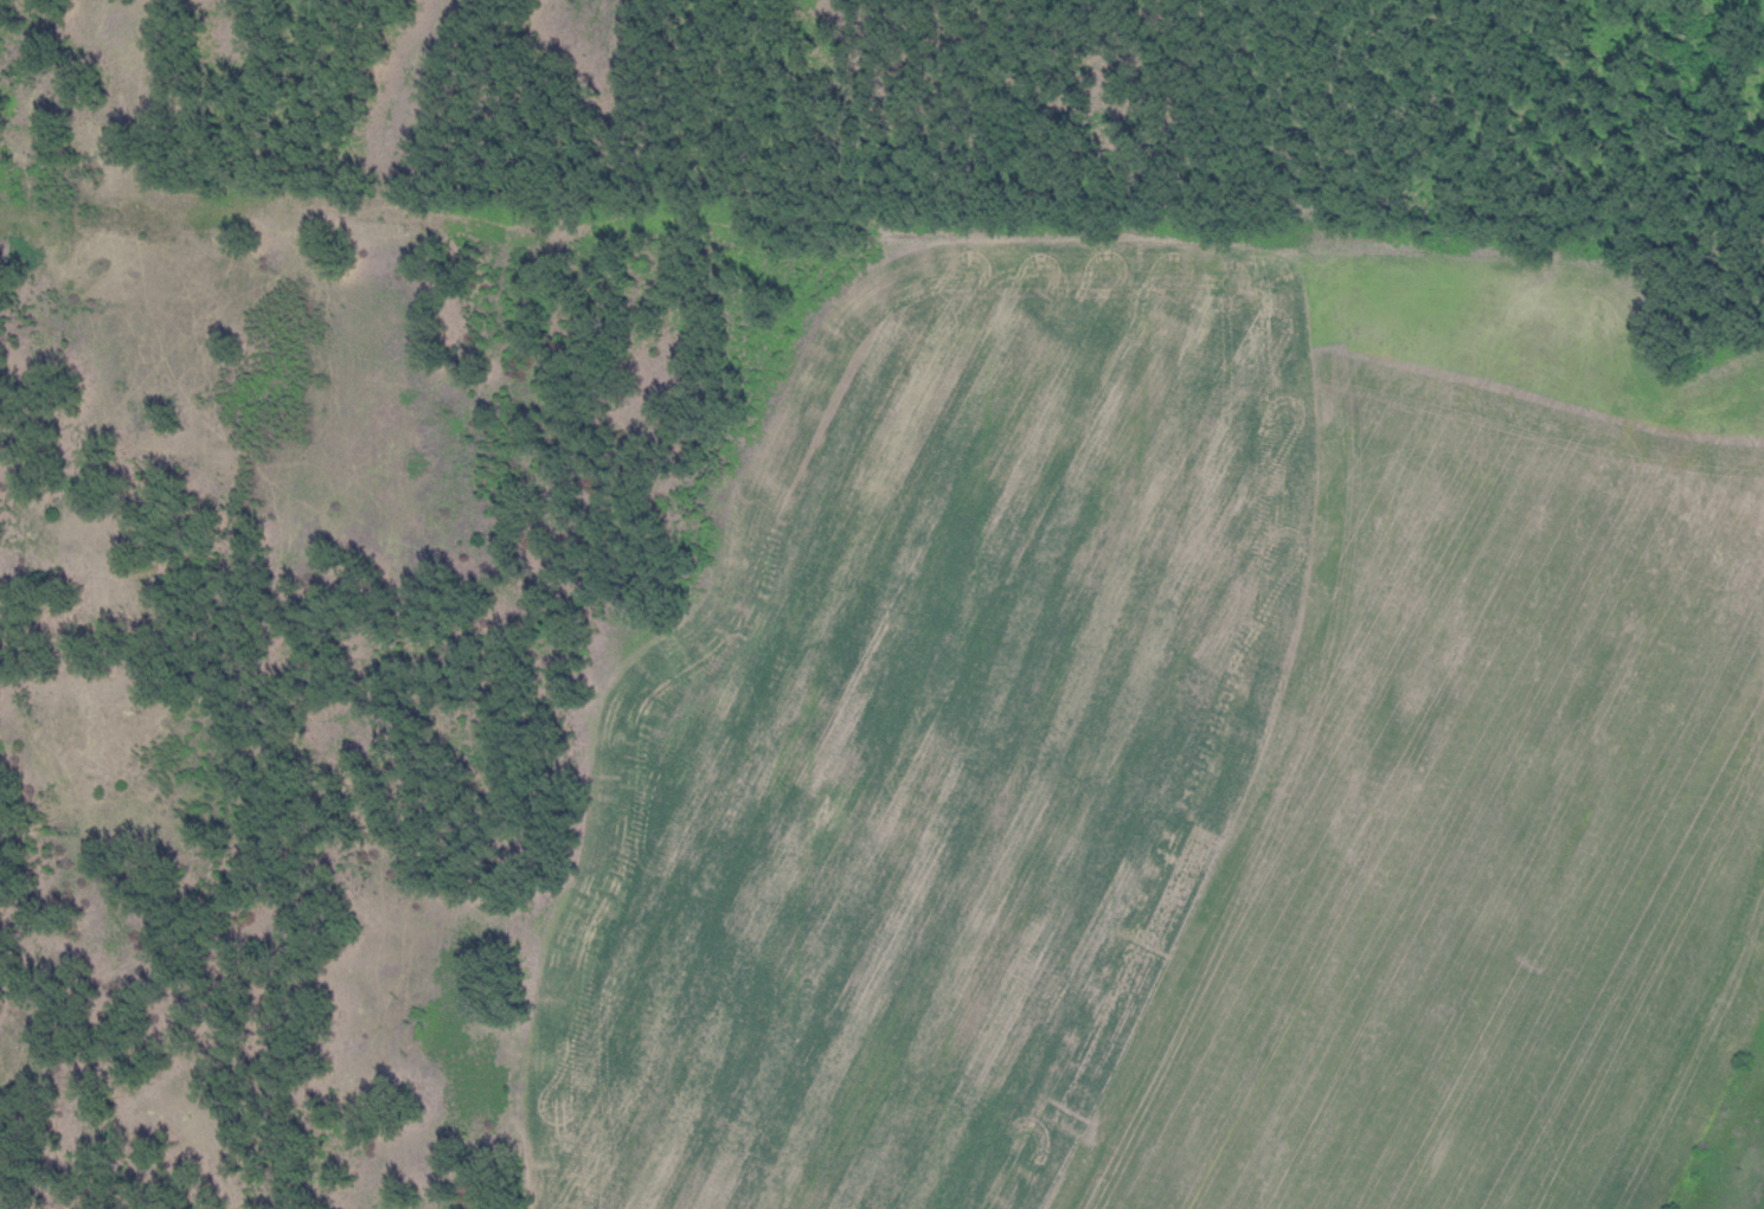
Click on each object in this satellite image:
road: (881, 281)

